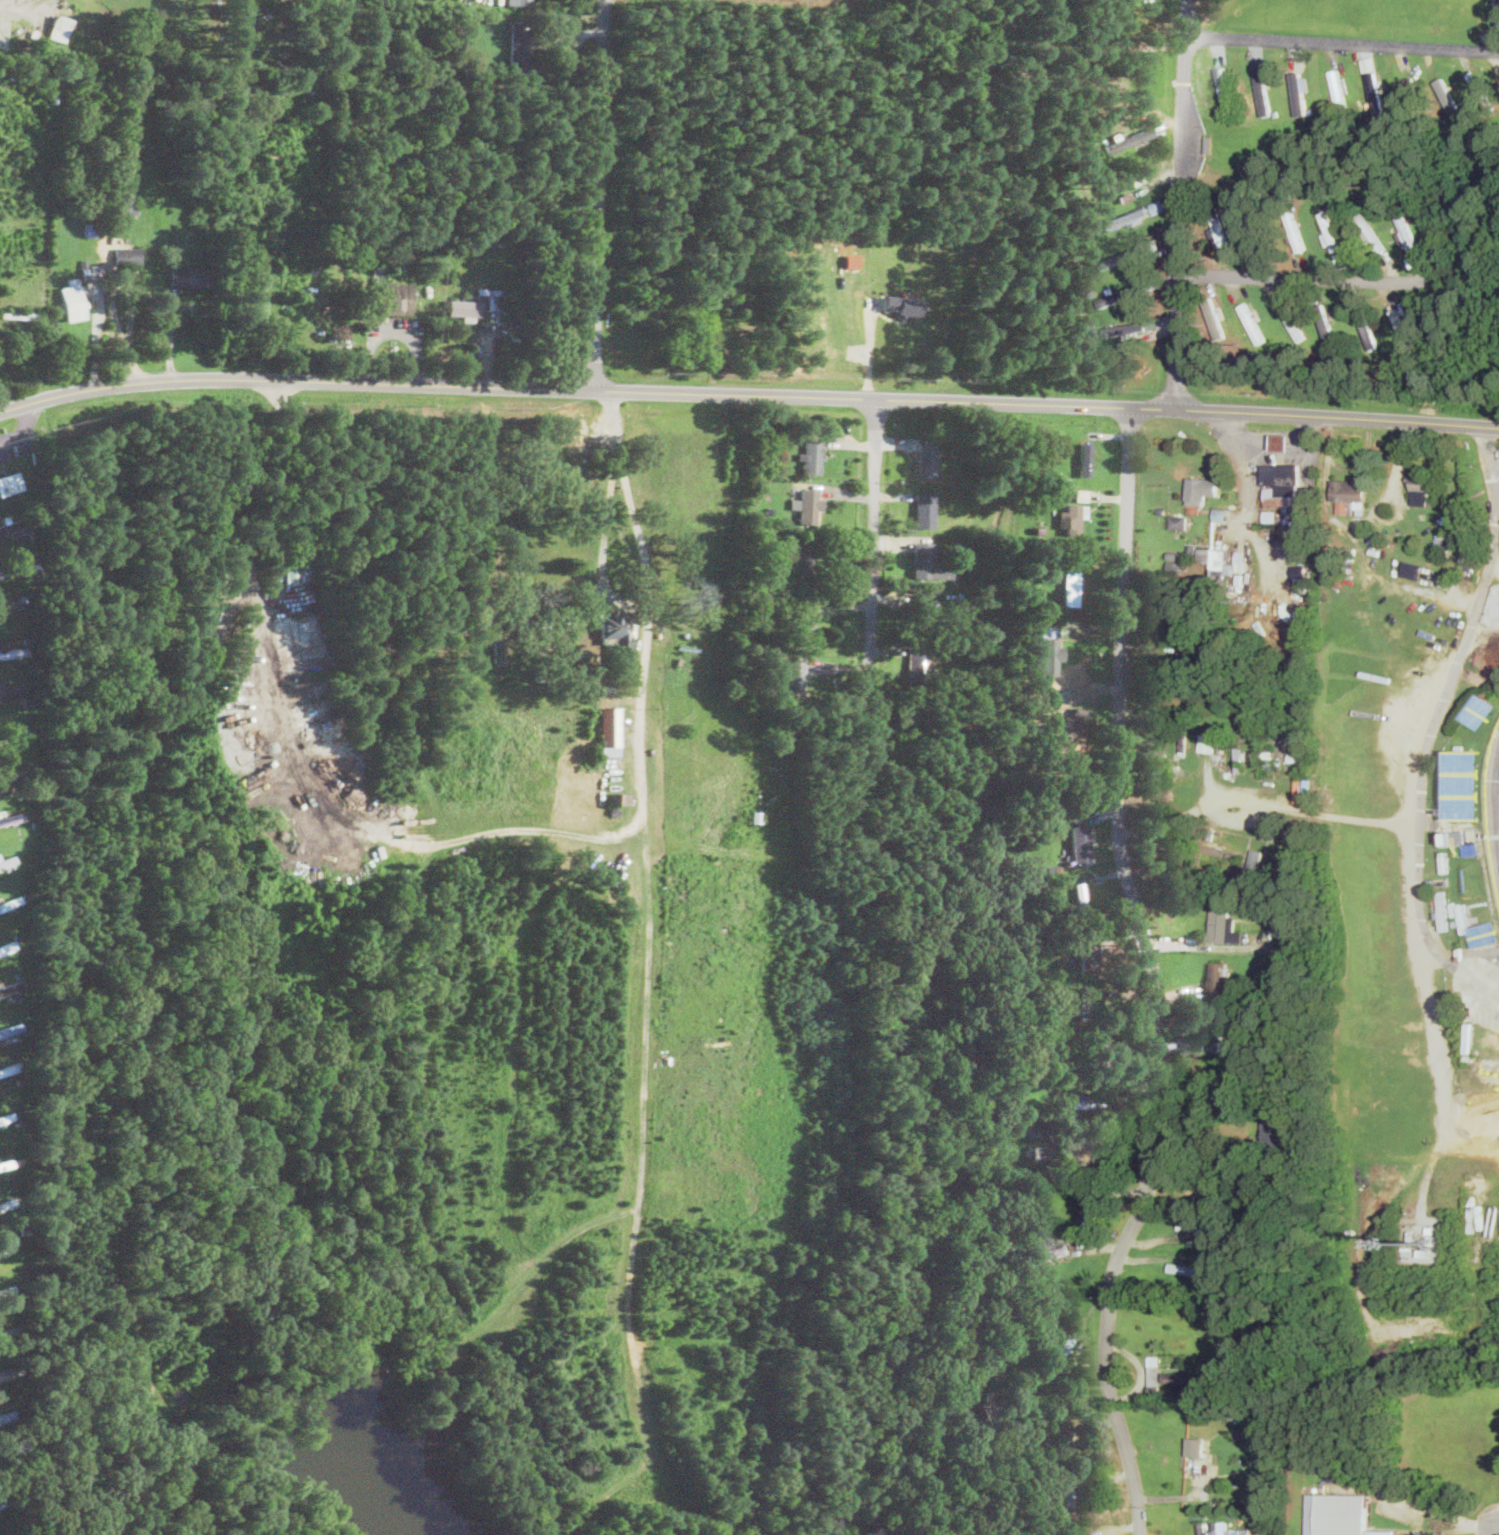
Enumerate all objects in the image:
building: (518, 1)
road: (9, 6)
road: (1498, 11)
road: (537, 12)
building: (246, 19)
building: (59, 26)
road: (1344, 41)
building: (518, 45)
building: (1224, 85)
building: (1263, 91)
building: (1376, 92)
building: (1299, 95)
building: (1128, 139)
building: (1209, 143)
building: (1126, 177)
road: (595, 195)
road: (1183, 203)
building: (125, 205)
building: (1125, 217)
building: (1254, 223)
building: (1331, 229)
building: (1408, 229)
building: (1221, 232)
building: (1296, 234)
building: (1373, 234)
building: (127, 255)
building: (1124, 255)
building: (91, 270)
building: (187, 275)
road: (1307, 281)
building: (1123, 293)
building: (393, 297)
building: (72, 298)
building: (474, 303)
building: (899, 304)
building: (1216, 322)
building: (1253, 322)
building: (1294, 324)
building: (1128, 327)
building: (1404, 327)
building: (1368, 328)
building: (1330, 332)
road: (96, 336)
road: (126, 341)
road: (36, 354)
road: (748, 395)
road: (1284, 450)
building: (814, 456)
building: (1086, 457)
building: (929, 458)
road: (1244, 469)
building: (1280, 477)
building: (10, 482)
building: (1420, 488)
building: (1199, 489)
building: (1346, 489)
building: (1081, 494)
building: (1358, 505)
building: (812, 506)
building: (927, 509)
building: (1269, 515)
building: (1068, 519)
building: (1179, 521)
building: (13, 526)
road: (870, 544)
building: (804, 560)
building: (1218, 560)
building: (930, 563)
building: (14, 565)
building: (1411, 570)
building: (802, 622)
road: (1483, 632)
building: (3, 649)
road: (264, 649)
building: (1048, 656)
building: (918, 667)
building: (797, 675)
road: (1452, 685)
building: (11, 689)
building: (1479, 709)
building: (610, 730)
building: (1207, 741)
building: (1462, 782)
building: (620, 797)
road: (1292, 804)
building: (1080, 843)
building: (1471, 847)
building: (7, 861)
building: (1254, 862)
building: (1081, 899)
building: (1223, 926)
building: (1484, 932)
road: (1194, 944)
building: (1087, 949)
road: (1464, 951)
road: (1153, 974)
building: (10, 977)
building: (1216, 977)
building: (12, 989)
building: (1218, 1030)
road: (1439, 1056)
building: (8, 1069)
building: (1225, 1092)
building: (1081, 1103)
building: (0, 1124)
building: (1271, 1128)
road: (1484, 1140)
building: (1082, 1149)
road: (1197, 1153)
building: (1088, 1206)
building: (1194, 1225)
building: (1041, 1250)
building: (1189, 1269)
building: (9, 1332)
building: (1059, 1353)
building: (1154, 1369)
building: (6, 1372)
building: (1178, 1376)
building: (1066, 1444)
building: (1195, 1446)
building: (1068, 1492)
road: (1415, 1501)
building: (1333, 1515)
building: (1220, 1529)

